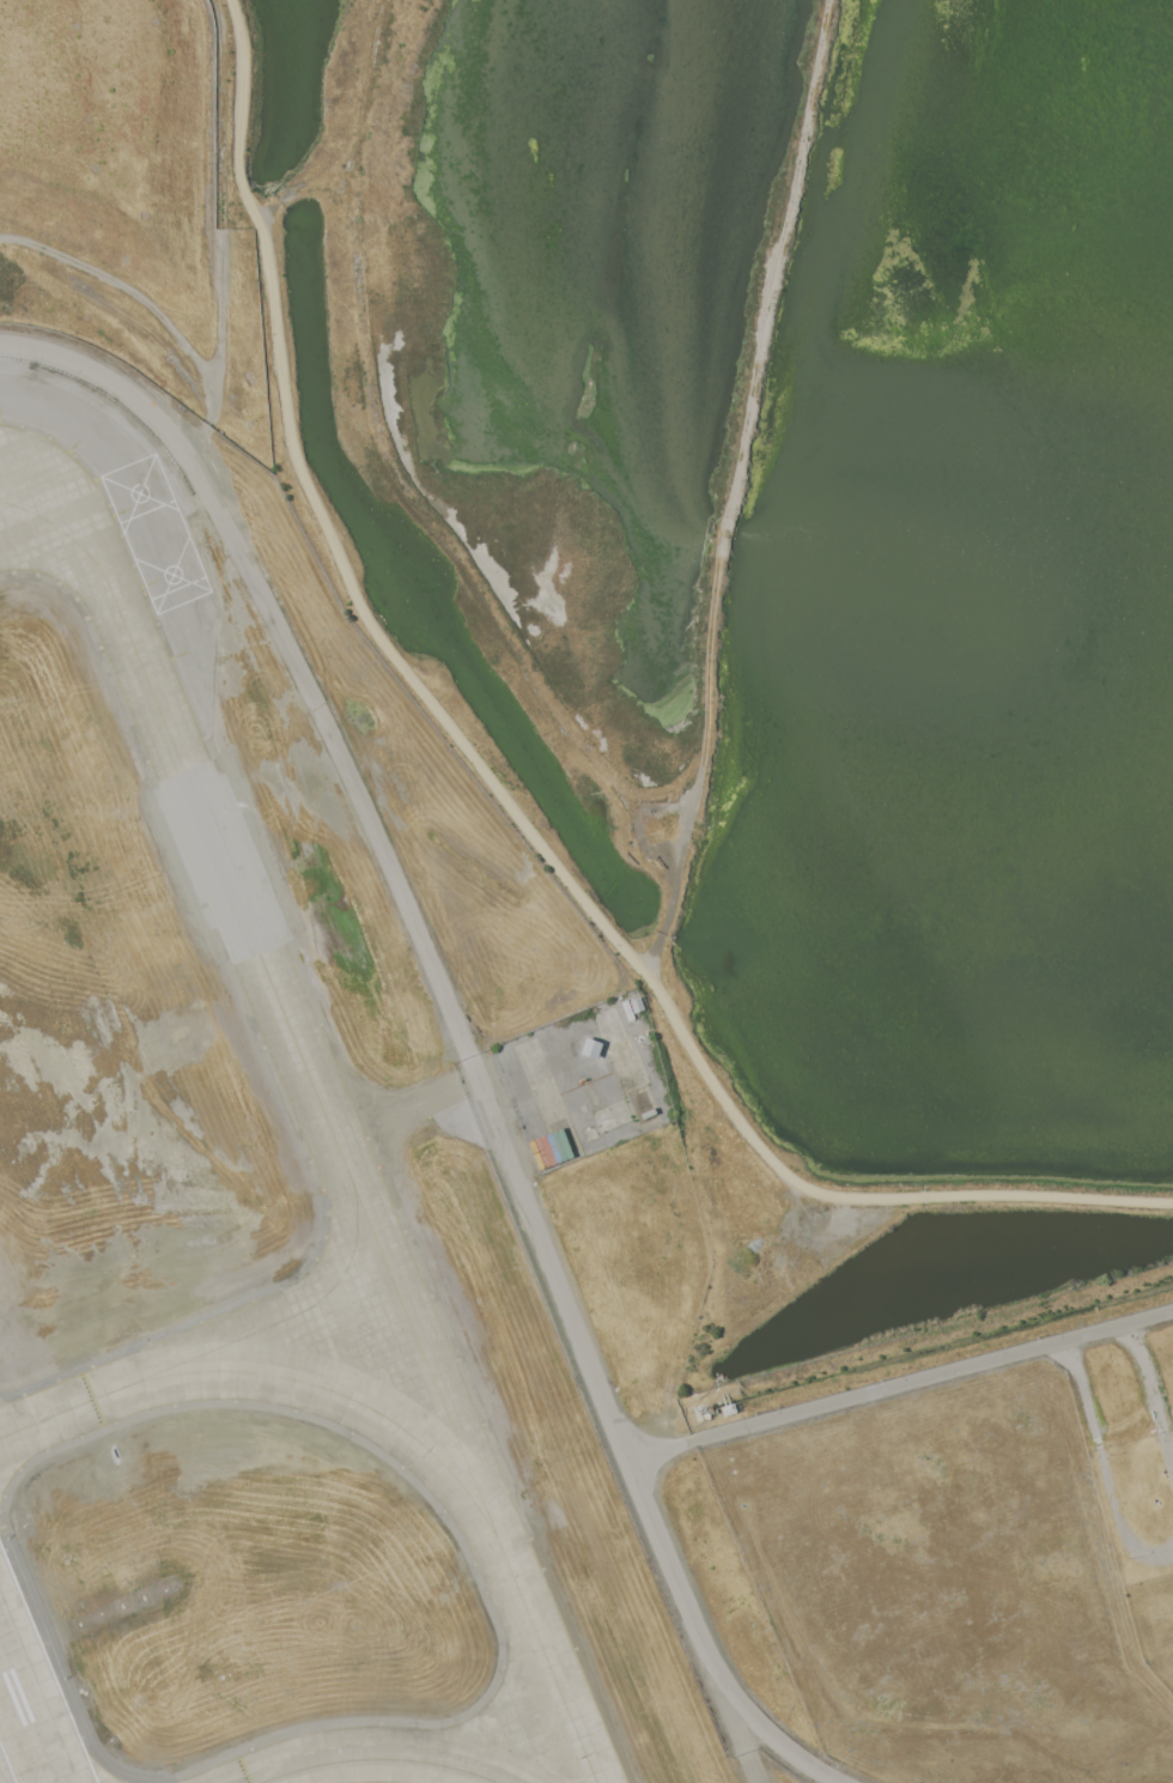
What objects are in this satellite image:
road: (355, 137)
road: (220, 201)
road: (129, 291)
road: (202, 432)
airport taxiway: (65, 533)
road: (499, 795)
road: (458, 1029)
airport: (273, 1177)
airport taxiway: (355, 1184)
airport taxiway: (285, 1323)
road: (900, 1385)
road: (1151, 1399)
airport taxiway: (338, 1400)
airport taxiway: (61, 1415)
road: (1102, 1466)
road: (728, 1706)
airport taxiway: (373, 1753)
airport runway: (8, 1761)

